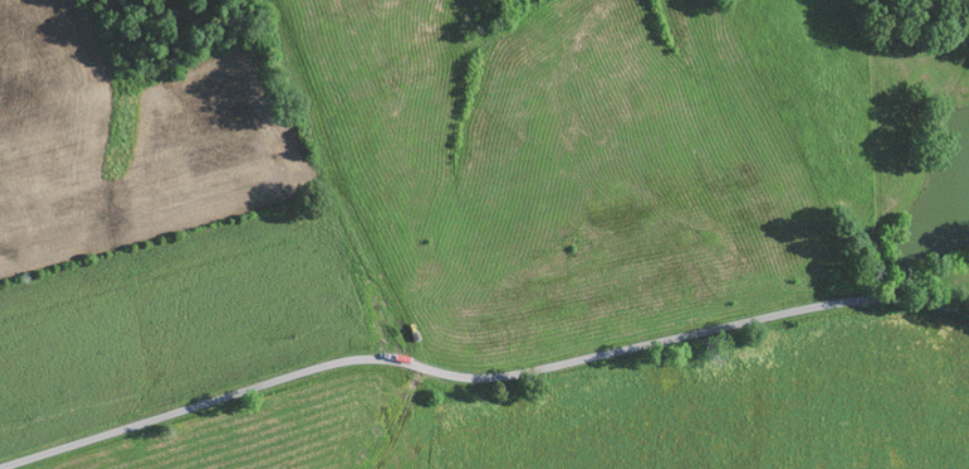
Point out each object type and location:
road: (479, 377)

